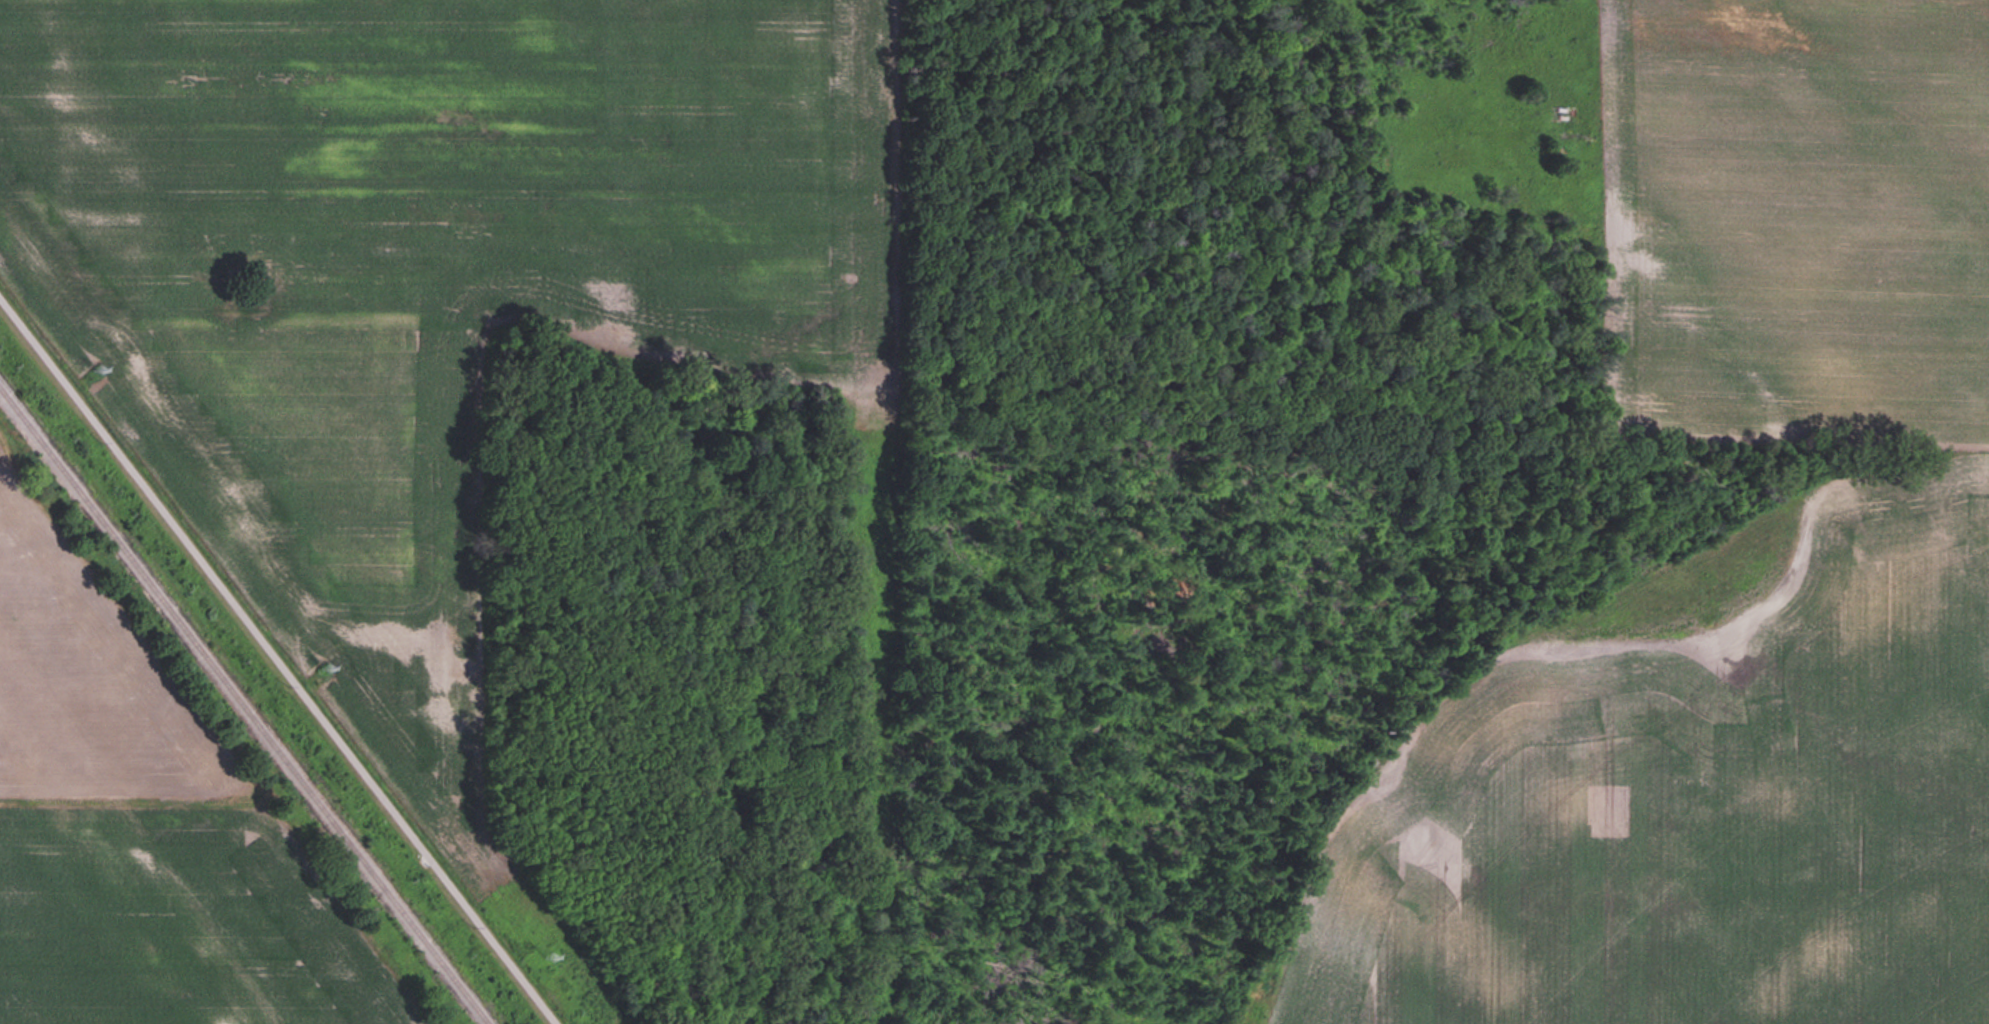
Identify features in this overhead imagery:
road: (279, 662)
railway: (242, 707)

